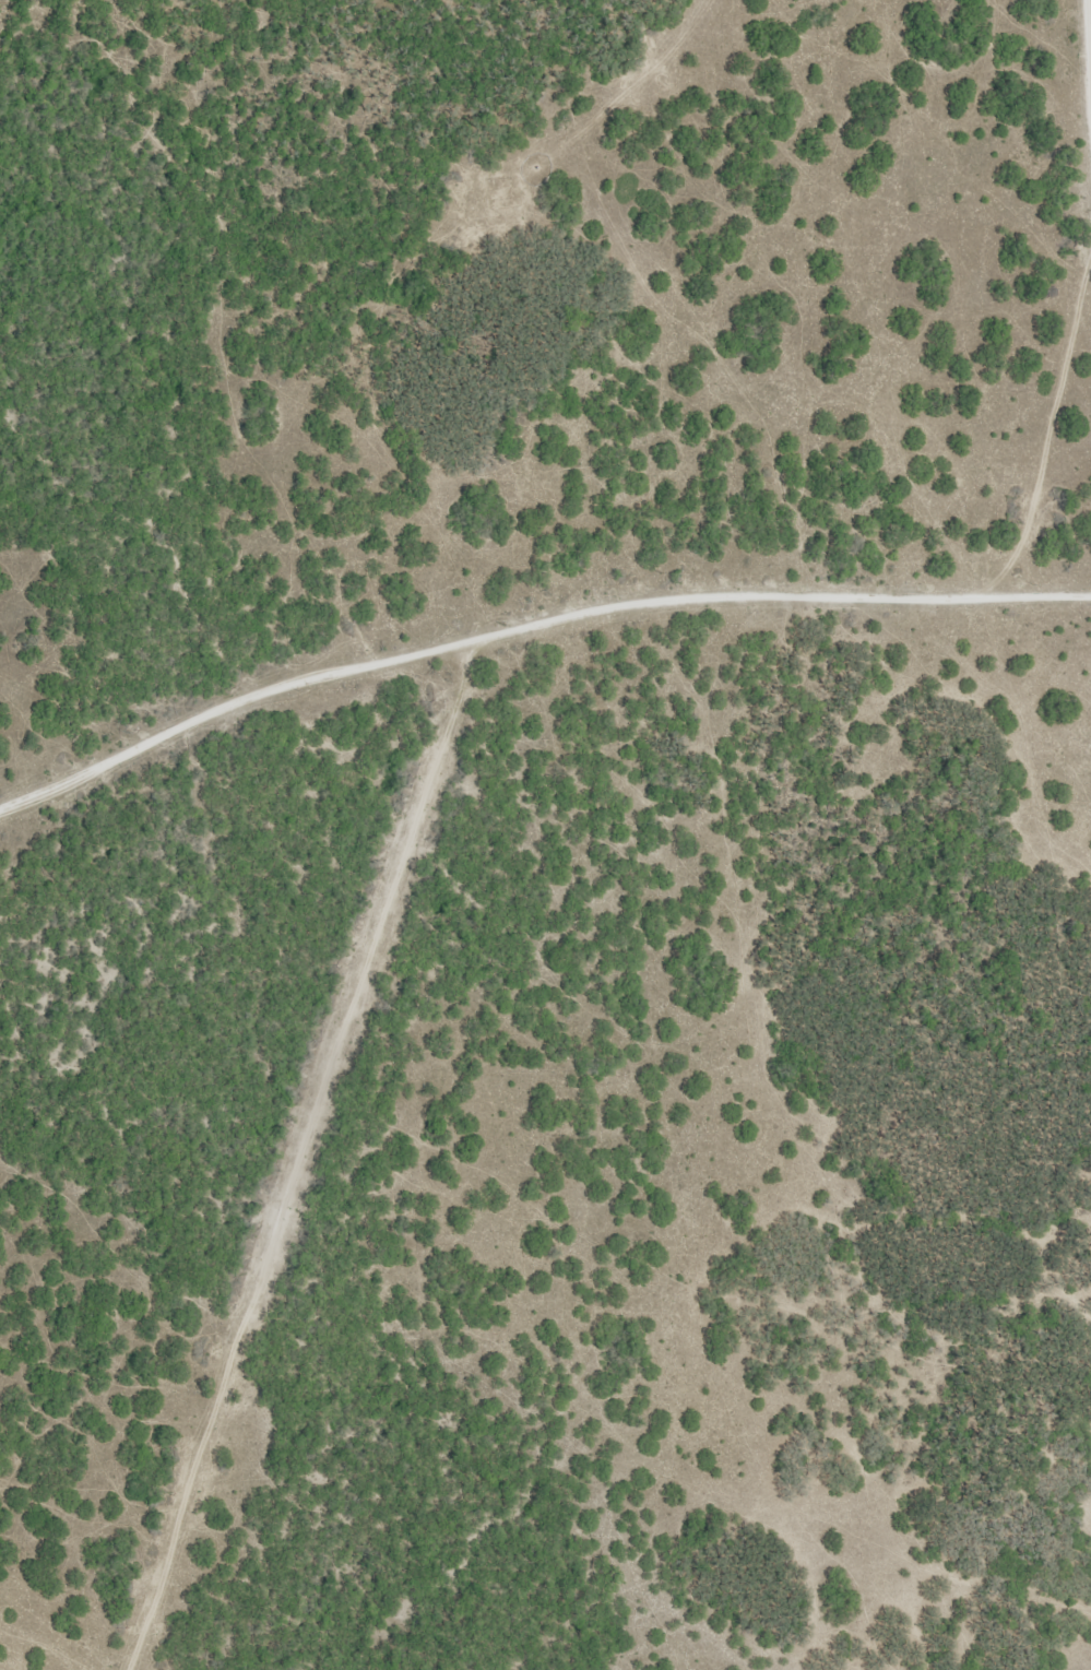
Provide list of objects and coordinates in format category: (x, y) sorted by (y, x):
road: (533, 644)
road: (1081, 653)

